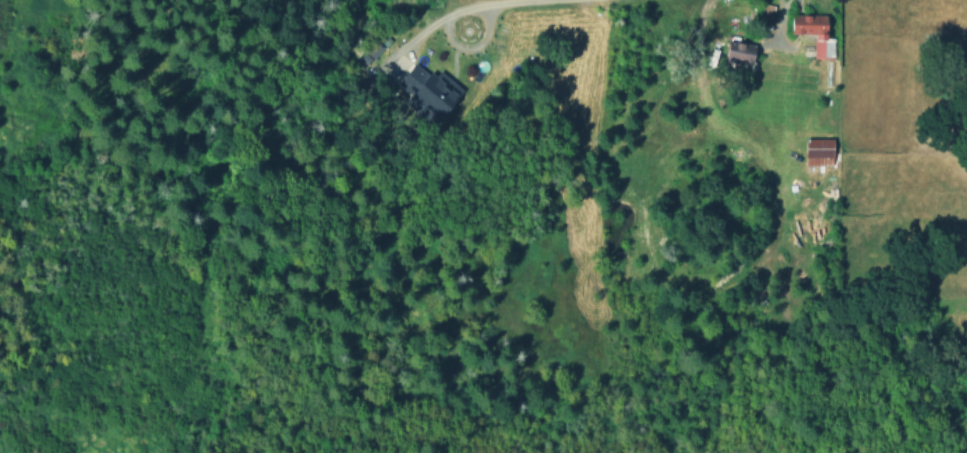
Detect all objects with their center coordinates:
road: (497, 3)
building: (815, 32)
road: (777, 33)
road: (452, 43)
building: (741, 52)
building: (819, 151)

